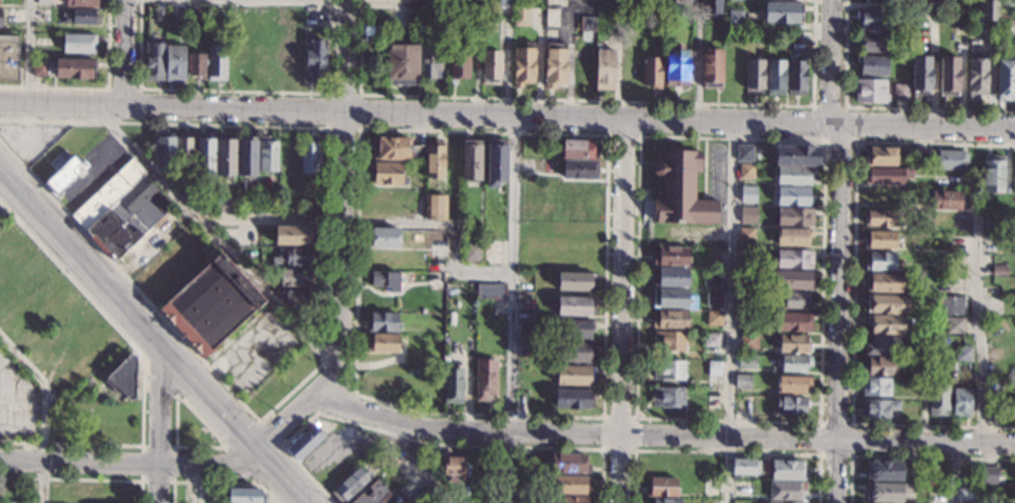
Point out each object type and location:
building: (44, 1)
building: (81, 3)
building: (497, 3)
road: (480, 6)
building: (712, 6)
building: (1006, 6)
building: (987, 10)
building: (521, 13)
building: (783, 13)
building: (0, 14)
building: (160, 14)
building: (197, 15)
building: (80, 16)
building: (734, 17)
building: (405, 19)
building: (873, 19)
building: (1009, 20)
building: (375, 21)
building: (587, 24)
building: (795, 35)
building: (873, 42)
building: (79, 43)
road: (30, 51)
road: (120, 51)
road: (345, 55)
building: (8, 57)
building: (315, 59)
building: (154, 61)
building: (430, 61)
building: (216, 63)
building: (402, 63)
building: (174, 64)
building: (196, 65)
building: (458, 65)
building: (523, 65)
building: (554, 65)
building: (871, 65)
building: (676, 66)
building: (491, 67)
building: (39, 68)
building: (711, 68)
building: (975, 68)
building: (75, 69)
building: (604, 69)
building: (651, 71)
building: (921, 75)
building: (754, 76)
building: (948, 76)
building: (775, 77)
building: (797, 77)
building: (1005, 80)
building: (870, 91)
building: (900, 92)
road: (360, 93)
road: (507, 116)
road: (818, 123)
road: (850, 123)
road: (639, 134)
road: (823, 140)
road: (607, 144)
building: (397, 149)
building: (578, 149)
building: (185, 151)
building: (165, 154)
building: (744, 154)
building: (309, 155)
building: (920, 156)
building: (204, 157)
building: (225, 157)
building: (268, 157)
building: (797, 157)
building: (881, 157)
building: (247, 158)
building: (433, 160)
building: (470, 160)
building: (950, 160)
building: (495, 163)
building: (579, 170)
building: (747, 171)
building: (386, 173)
building: (1013, 174)
building: (795, 175)
building: (993, 175)
building: (64, 176)
building: (885, 176)
building: (681, 190)
building: (748, 194)
building: (793, 196)
building: (944, 200)
building: (224, 205)
building: (435, 207)
building: (308, 208)
building: (121, 210)
building: (1013, 210)
building: (748, 216)
building: (795, 217)
building: (883, 219)
road: (377, 224)
road: (212, 235)
building: (746, 235)
building: (293, 236)
building: (383, 237)
building: (793, 238)
building: (879, 240)
road: (837, 250)
road: (339, 252)
building: (472, 253)
building: (671, 256)
building: (714, 256)
building: (293, 257)
building: (745, 257)
building: (795, 259)
building: (122, 261)
building: (879, 261)
building: (999, 270)
building: (295, 277)
building: (670, 277)
building: (710, 278)
building: (385, 280)
building: (792, 280)
building: (575, 281)
building: (884, 282)
road: (853, 284)
road: (976, 290)
building: (490, 291)
building: (296, 298)
building: (669, 298)
building: (713, 298)
building: (745, 299)
building: (794, 300)
building: (885, 304)
building: (950, 305)
building: (210, 306)
building: (572, 306)
road: (511, 309)
road: (101, 310)
road: (622, 311)
road: (730, 312)
road: (323, 315)
building: (714, 318)
building: (670, 319)
building: (745, 320)
building: (383, 321)
building: (794, 323)
building: (885, 324)
building: (953, 325)
building: (573, 328)
building: (712, 340)
building: (669, 341)
building: (749, 341)
road: (149, 343)
building: (383, 343)
building: (792, 343)
building: (882, 346)
building: (574, 351)
building: (963, 353)
building: (746, 361)
building: (301, 362)
building: (793, 363)
building: (937, 364)
building: (880, 366)
building: (714, 368)
building: (668, 370)
building: (574, 375)
road: (159, 377)
building: (122, 378)
building: (485, 379)
building: (742, 382)
building: (792, 384)
building: (452, 386)
building: (875, 387)
building: (922, 388)
building: (269, 392)
building: (668, 397)
building: (572, 398)
building: (938, 399)
road: (335, 401)
building: (961, 402)
building: (790, 406)
building: (878, 409)
road: (44, 412)
building: (992, 415)
road: (200, 418)
road: (290, 419)
road: (160, 430)
road: (665, 435)
road: (422, 441)
road: (71, 442)
building: (305, 442)
traffic signals: (255, 448)
road: (276, 449)
road: (634, 449)
road: (724, 451)
road: (850, 454)
road: (909, 456)
road: (129, 462)
road: (419, 463)
building: (568, 464)
building: (453, 467)
building: (744, 468)
building: (787, 470)
building: (885, 470)
road: (953, 473)
building: (988, 475)
road: (80, 479)
road: (255, 480)
road: (173, 481)
road: (218, 482)
building: (570, 484)
building: (350, 485)
building: (661, 487)
road: (277, 489)
building: (786, 490)
building: (888, 492)
building: (467, 493)
building: (373, 494)
building: (244, 495)
building: (430, 496)
building: (392, 499)
building: (574, 500)
building: (665, 500)
building: (783, 502)

